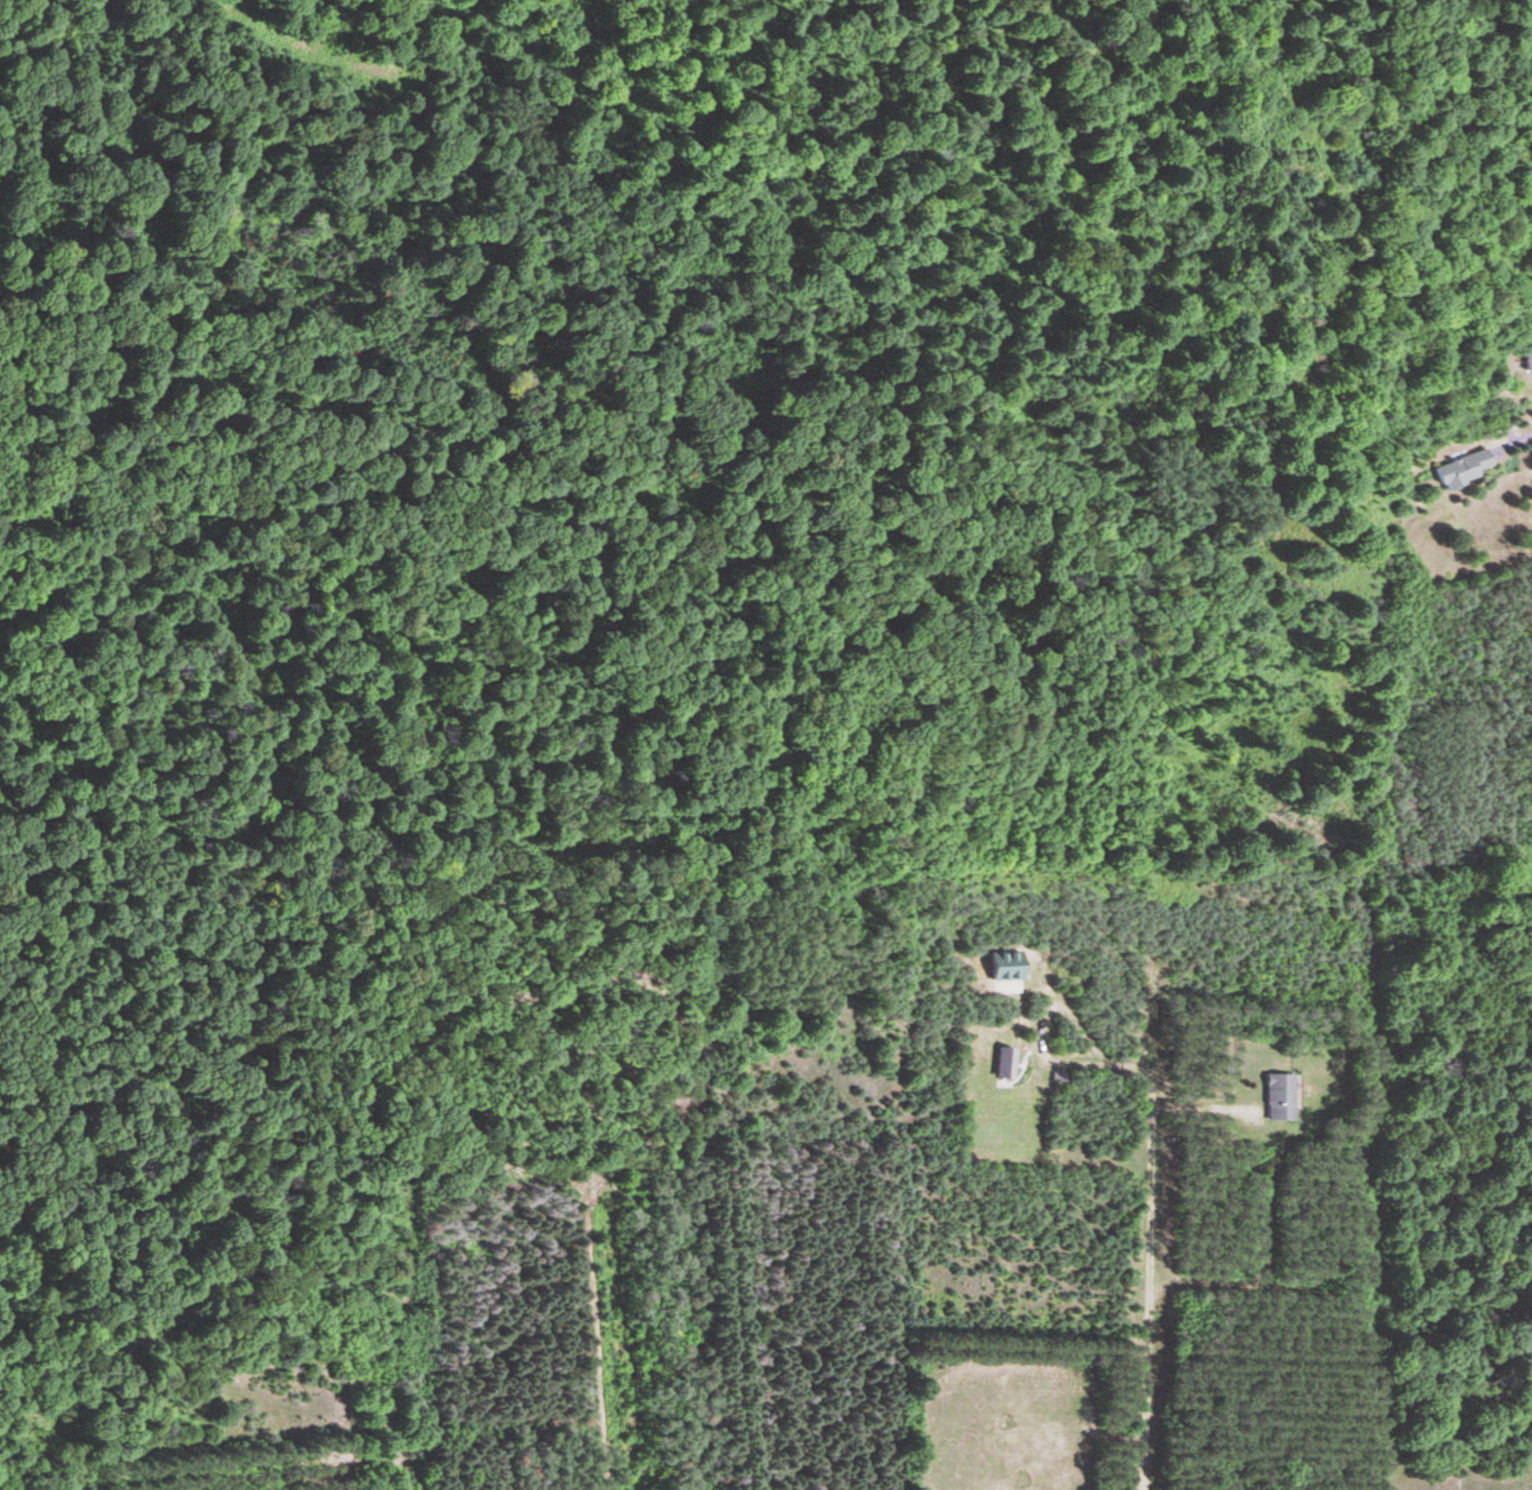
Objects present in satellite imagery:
building: (1526, 352)
building: (1457, 470)
building: (1006, 1064)
building: (1278, 1098)
road: (1154, 1278)

